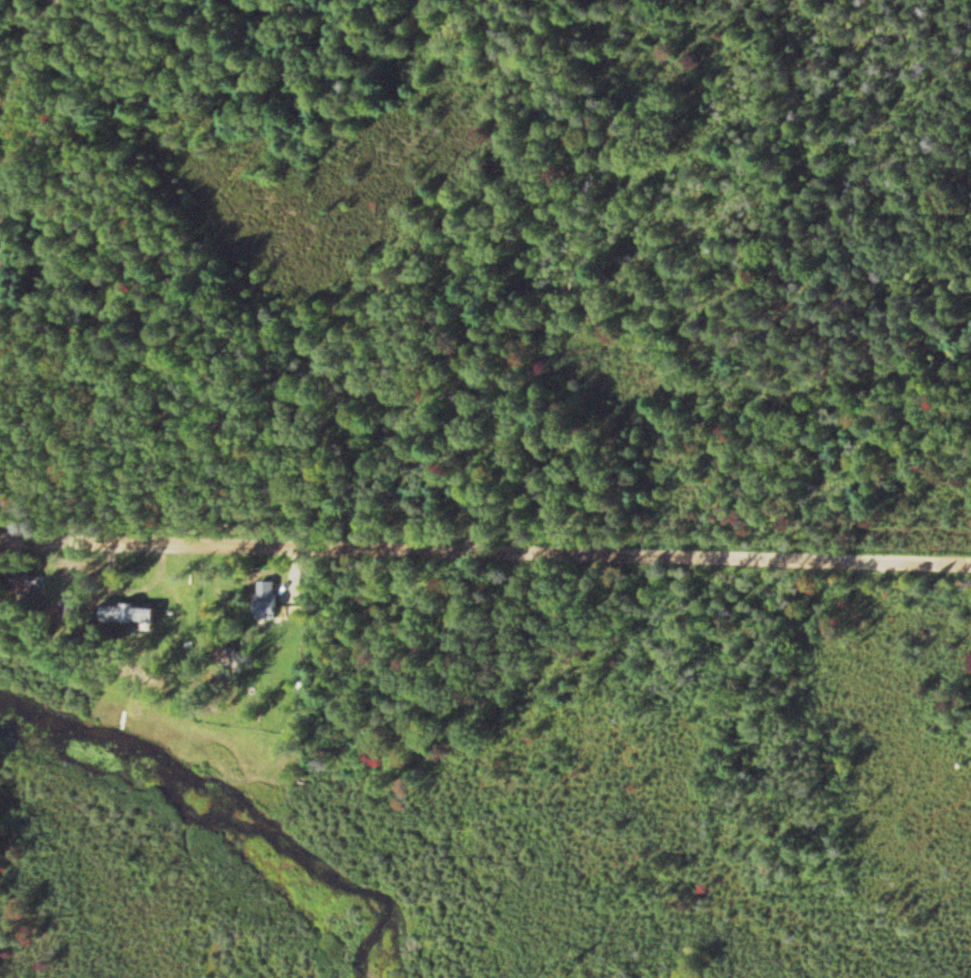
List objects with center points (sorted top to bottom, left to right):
road: (29, 56)
road: (485, 551)
building: (274, 600)
building: (137, 612)
river: (212, 803)

